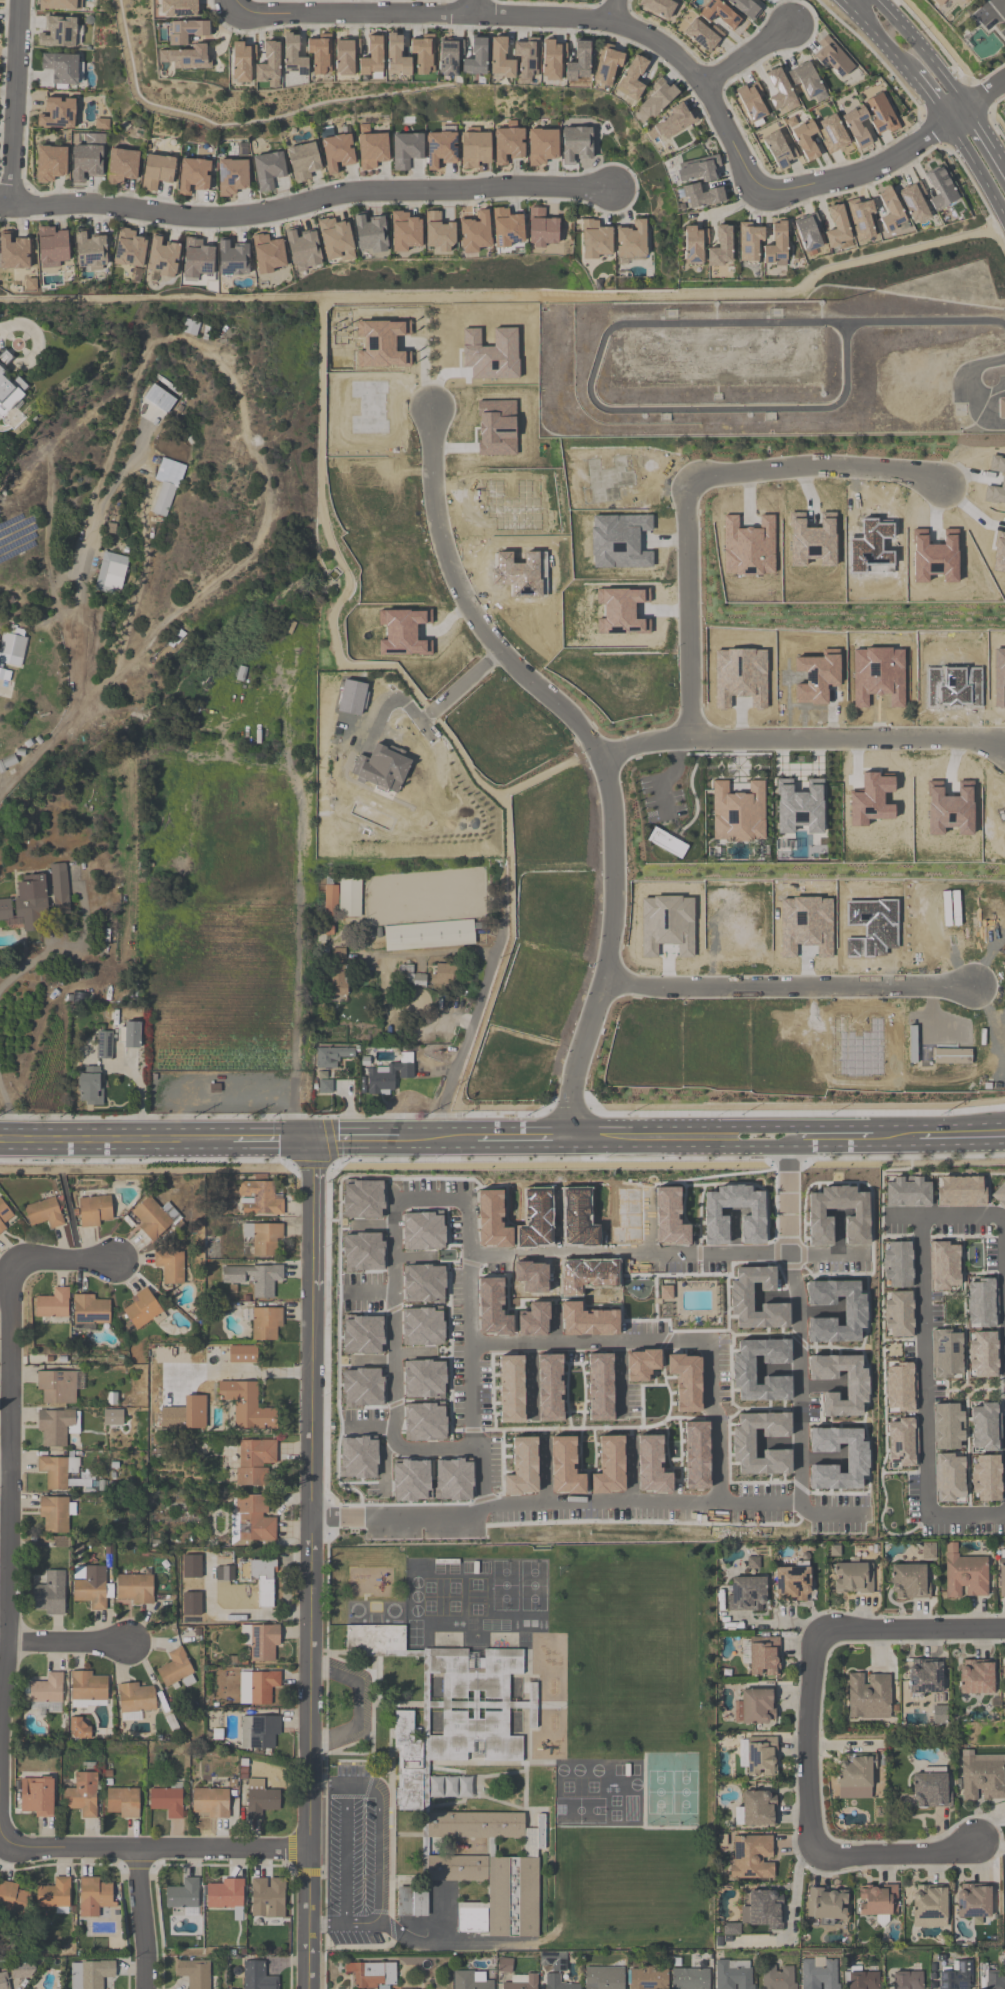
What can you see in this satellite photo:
building: (678, 0)
building: (761, 0)
building: (764, 0)
road: (846, 2)
road: (850, 2)
building: (940, 3)
building: (60, 4)
road: (1001, 4)
building: (659, 6)
building: (178, 8)
road: (474, 8)
building: (745, 8)
road: (612, 11)
building: (718, 13)
road: (534, 18)
building: (188, 31)
building: (58, 32)
building: (703, 35)
road: (879, 39)
park: (978, 39)
road: (926, 52)
building: (320, 53)
building: (423, 54)
road: (745, 55)
building: (293, 56)
building: (345, 56)
building: (449, 56)
building: (186, 57)
building: (371, 57)
building: (397, 57)
building: (476, 57)
building: (527, 57)
building: (833, 57)
building: (500, 59)
building: (552, 59)
building: (240, 61)
building: (578, 61)
building: (268, 63)
building: (607, 64)
building: (61, 67)
building: (631, 78)
building: (806, 79)
building: (780, 89)
road: (986, 97)
building: (657, 98)
road: (929, 98)
building: (751, 101)
road: (14, 103)
building: (58, 113)
building: (882, 115)
building: (673, 123)
building: (857, 126)
building: (832, 134)
building: (806, 140)
road: (986, 140)
building: (508, 144)
building: (576, 144)
building: (541, 146)
building: (406, 149)
building: (440, 149)
building: (474, 149)
building: (372, 150)
building: (779, 150)
building: (336, 152)
building: (303, 161)
building: (86, 162)
building: (51, 163)
building: (122, 166)
building: (268, 169)
building: (699, 169)
road: (977, 170)
building: (157, 171)
road: (870, 172)
building: (193, 175)
building: (232, 176)
building: (941, 190)
building: (703, 196)
building: (914, 202)
road: (304, 204)
building: (890, 210)
building: (860, 218)
building: (837, 227)
building: (507, 228)
building: (542, 229)
building: (404, 232)
building: (439, 232)
building: (474, 232)
building: (808, 232)
building: (370, 233)
building: (335, 240)
building: (595, 240)
building: (631, 240)
building: (749, 242)
building: (694, 244)
building: (52, 245)
building: (776, 245)
building: (721, 248)
building: (129, 249)
building: (302, 249)
building: (89, 251)
building: (13, 252)
building: (268, 254)
building: (162, 256)
building: (197, 258)
building: (232, 258)
road: (925, 321)
road: (728, 323)
building: (190, 328)
building: (4, 358)
road: (969, 391)
building: (10, 392)
road: (988, 396)
building: (159, 399)
building: (1001, 409)
road: (715, 410)
road: (818, 466)
building: (163, 500)
road: (85, 562)
building: (111, 574)
road: (140, 590)
road: (688, 610)
building: (12, 649)
road: (461, 686)
road: (801, 740)
road: (41, 749)
road: (594, 750)
building: (381, 771)
road: (299, 839)
building: (84, 871)
building: (339, 897)
building: (37, 900)
building: (429, 935)
road: (74, 947)
building: (430, 977)
building: (336, 981)
road: (788, 987)
road: (478, 1009)
building: (131, 1037)
building: (103, 1046)
building: (331, 1057)
building: (387, 1076)
building: (90, 1085)
road: (8, 1108)
road: (992, 1129)
road: (942, 1131)
road: (844, 1133)
road: (621, 1134)
road: (727, 1134)
road: (286, 1135)
building: (259, 1199)
building: (94, 1211)
building: (45, 1213)
road: (944, 1213)
building: (5, 1217)
building: (153, 1218)
road: (371, 1218)
building: (578, 1218)
building: (492, 1219)
building: (535, 1219)
road: (649, 1220)
road: (557, 1221)
road: (1003, 1222)
road: (840, 1228)
road: (734, 1229)
building: (423, 1230)
building: (263, 1238)
road: (415, 1251)
road: (668, 1251)
road: (64, 1260)
building: (433, 1261)
building: (170, 1266)
road: (553, 1270)
building: (586, 1274)
building: (531, 1276)
building: (254, 1278)
building: (424, 1283)
road: (372, 1287)
road: (775, 1292)
building: (52, 1306)
building: (492, 1307)
road: (818, 1308)
building: (142, 1309)
building: (91, 1311)
road: (797, 1315)
road: (394, 1319)
building: (533, 1319)
building: (586, 1319)
building: (266, 1324)
road: (553, 1325)
building: (422, 1326)
building: (362, 1334)
road: (596, 1343)
building: (531, 1347)
road: (416, 1349)
road: (477, 1352)
building: (242, 1354)
road: (375, 1356)
road: (924, 1363)
road: (777, 1365)
building: (424, 1378)
road: (625, 1378)
road: (819, 1381)
road: (530, 1382)
building: (59, 1386)
building: (362, 1386)
building: (549, 1387)
building: (511, 1388)
building: (709, 1400)
building: (246, 1406)
building: (899, 1408)
building: (113, 1417)
building: (425, 1421)
road: (718, 1421)
road: (373, 1422)
building: (55, 1425)
building: (986, 1433)
road: (778, 1438)
road: (819, 1450)
building: (886, 1454)
building: (253, 1461)
building: (522, 1466)
road: (632, 1467)
road: (545, 1468)
road: (388, 1470)
road: (4, 1473)
building: (64, 1473)
road: (583, 1501)
building: (992, 1506)
road: (966, 1512)
building: (56, 1514)
building: (252, 1521)
road: (7, 1558)
road: (313, 1562)
building: (261, 1570)
building: (965, 1575)
building: (1001, 1576)
building: (853, 1579)
building: (792, 1582)
building: (908, 1583)
building: (90, 1585)
building: (134, 1588)
building: (49, 1594)
building: (748, 1594)
road: (774, 1624)
road: (913, 1628)
building: (262, 1642)
road: (68, 1645)
building: (762, 1656)
building: (177, 1669)
building: (924, 1680)
building: (974, 1680)
building: (1003, 1682)
building: (263, 1686)
building: (88, 1688)
building: (46, 1694)
building: (868, 1696)
building: (135, 1700)
road: (358, 1704)
building: (755, 1707)
building: (938, 1716)
building: (78, 1729)
building: (259, 1732)
road: (810, 1738)
building: (758, 1756)
building: (854, 1777)
building: (464, 1778)
building: (982, 1778)
building: (930, 1791)
building: (82, 1795)
building: (37, 1797)
building: (168, 1800)
building: (260, 1800)
building: (122, 1803)
building: (210, 1803)
building: (756, 1809)
road: (158, 1852)
road: (895, 1854)
road: (347, 1857)
building: (752, 1857)
road: (383, 1858)
road: (795, 1889)
building: (55, 1895)
building: (225, 1895)
building: (183, 1896)
building: (13, 1897)
building: (94, 1897)
building: (268, 1898)
building: (412, 1901)
building: (877, 1903)
building: (973, 1903)
building: (826, 1906)
building: (929, 1909)
building: (763, 1911)
road: (142, 1920)
building: (548, 1958)
building: (505, 1964)
building: (18, 1971)
building: (194, 1973)
building: (92, 1974)
building: (735, 1974)
building: (819, 1974)
building: (372, 1975)
building: (258, 1976)
building: (648, 1977)
building: (778, 1977)
building: (957, 1977)
building: (995, 1977)
building: (604, 1978)
building: (690, 1978)
building: (4, 1980)
building: (863, 1980)
building: (907, 1980)
building: (469, 1981)
building: (522, 1982)
building: (558, 1983)

